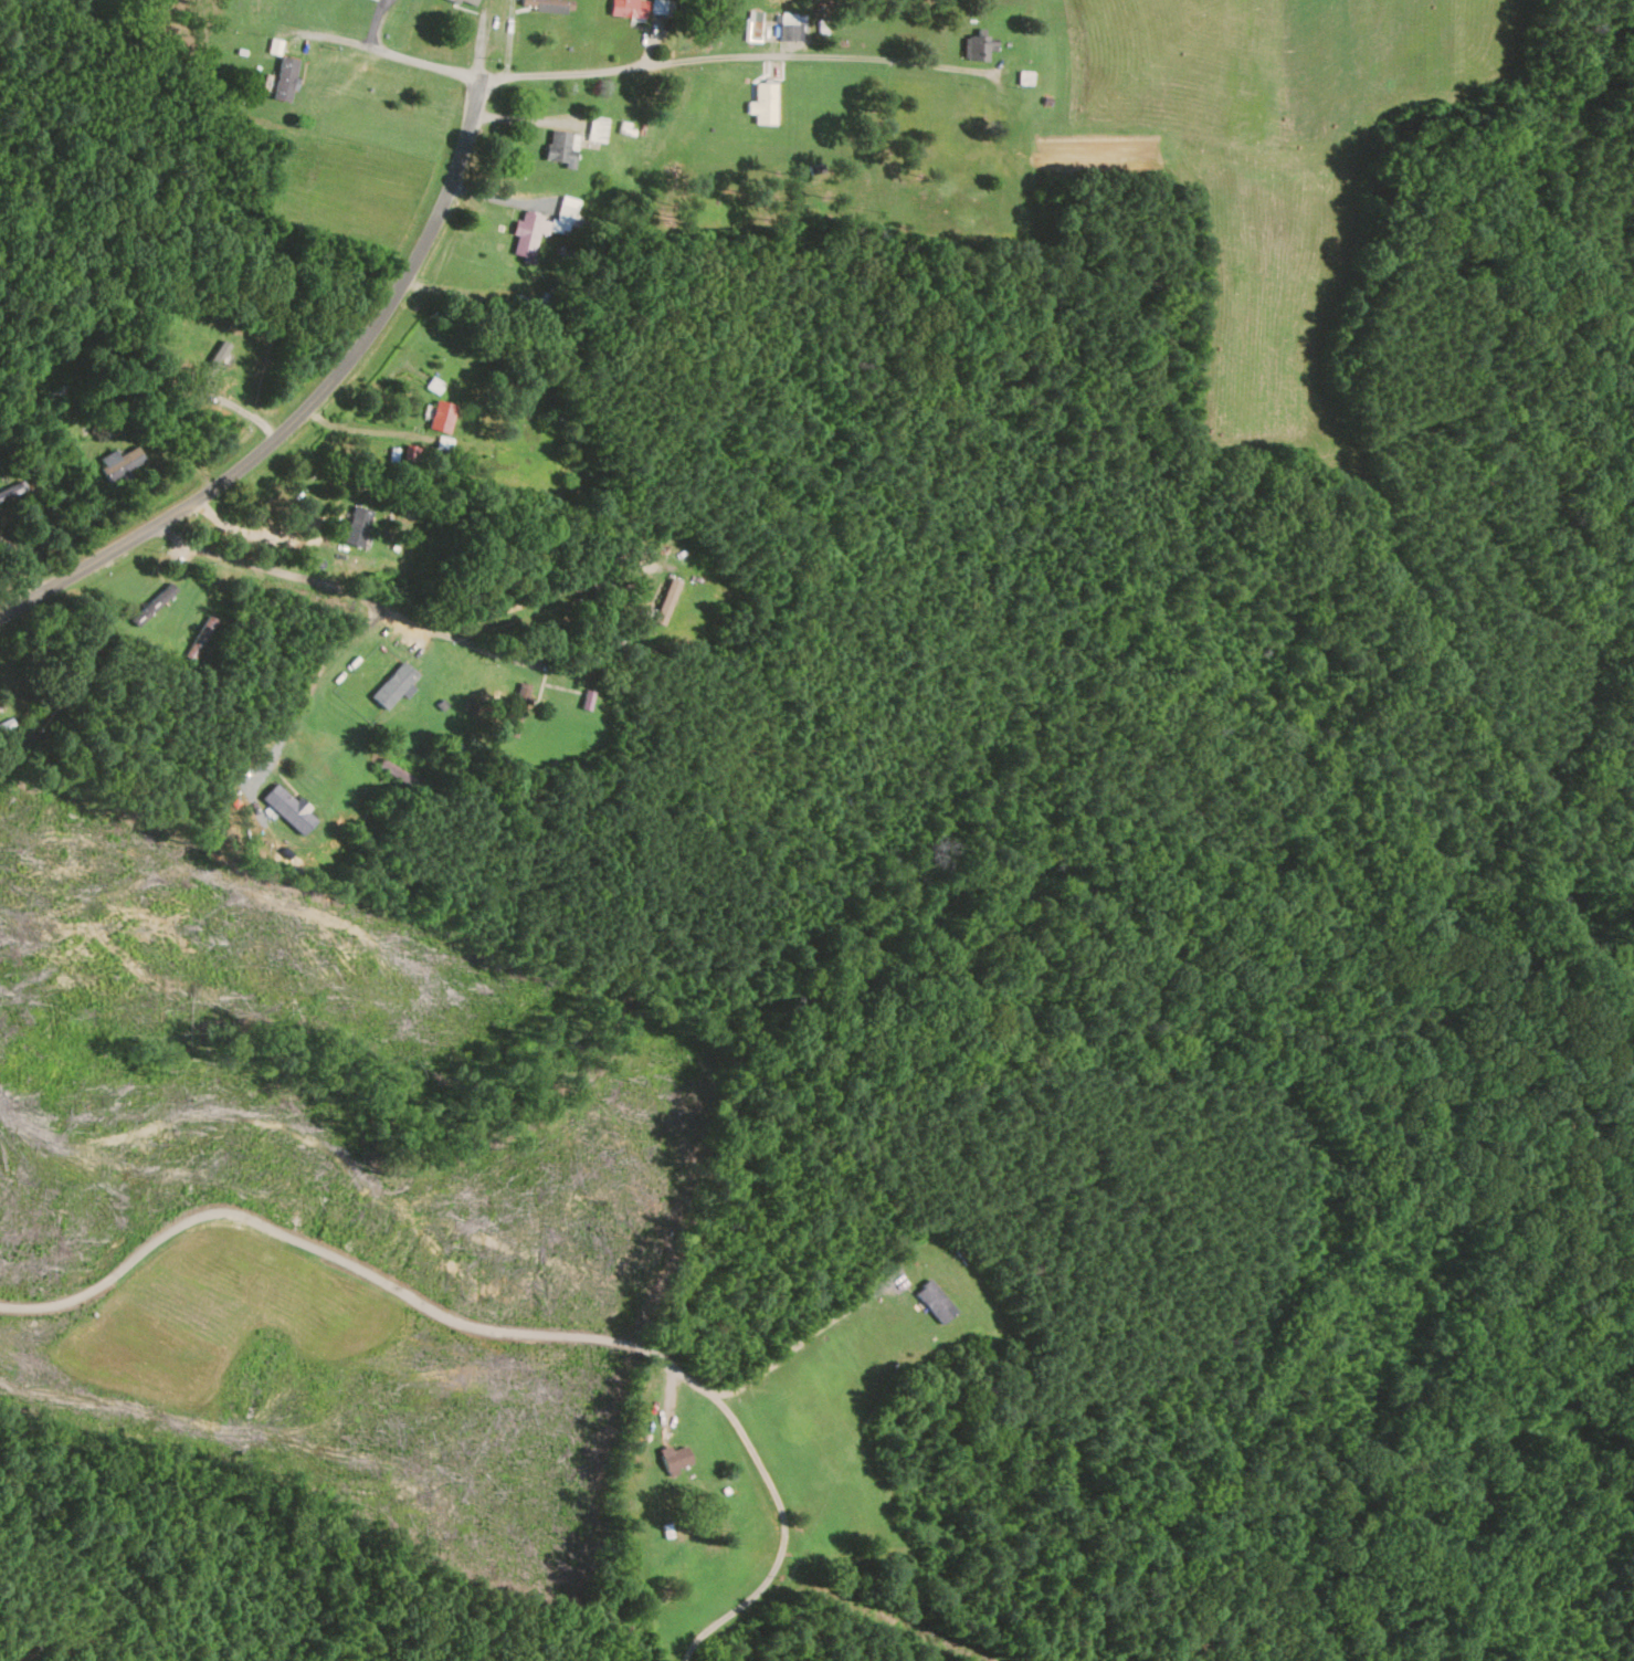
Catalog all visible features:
building: (467, 2)
building: (549, 6)
building: (629, 9)
building: (792, 29)
building: (980, 49)
road: (560, 74)
building: (286, 78)
building: (765, 104)
road: (527, 120)
building: (599, 130)
building: (562, 147)
building: (568, 215)
building: (528, 236)
building: (52, 399)
road: (308, 404)
building: (443, 417)
building: (120, 463)
building: (12, 493)
building: (359, 526)
road: (263, 568)
building: (668, 601)
building: (157, 602)
road: (509, 607)
building: (160, 646)
road: (314, 679)
building: (396, 698)
building: (519, 711)
building: (289, 810)
building: (937, 1302)
road: (499, 1328)
road: (801, 1346)
building: (678, 1461)
building: (626, 1636)

